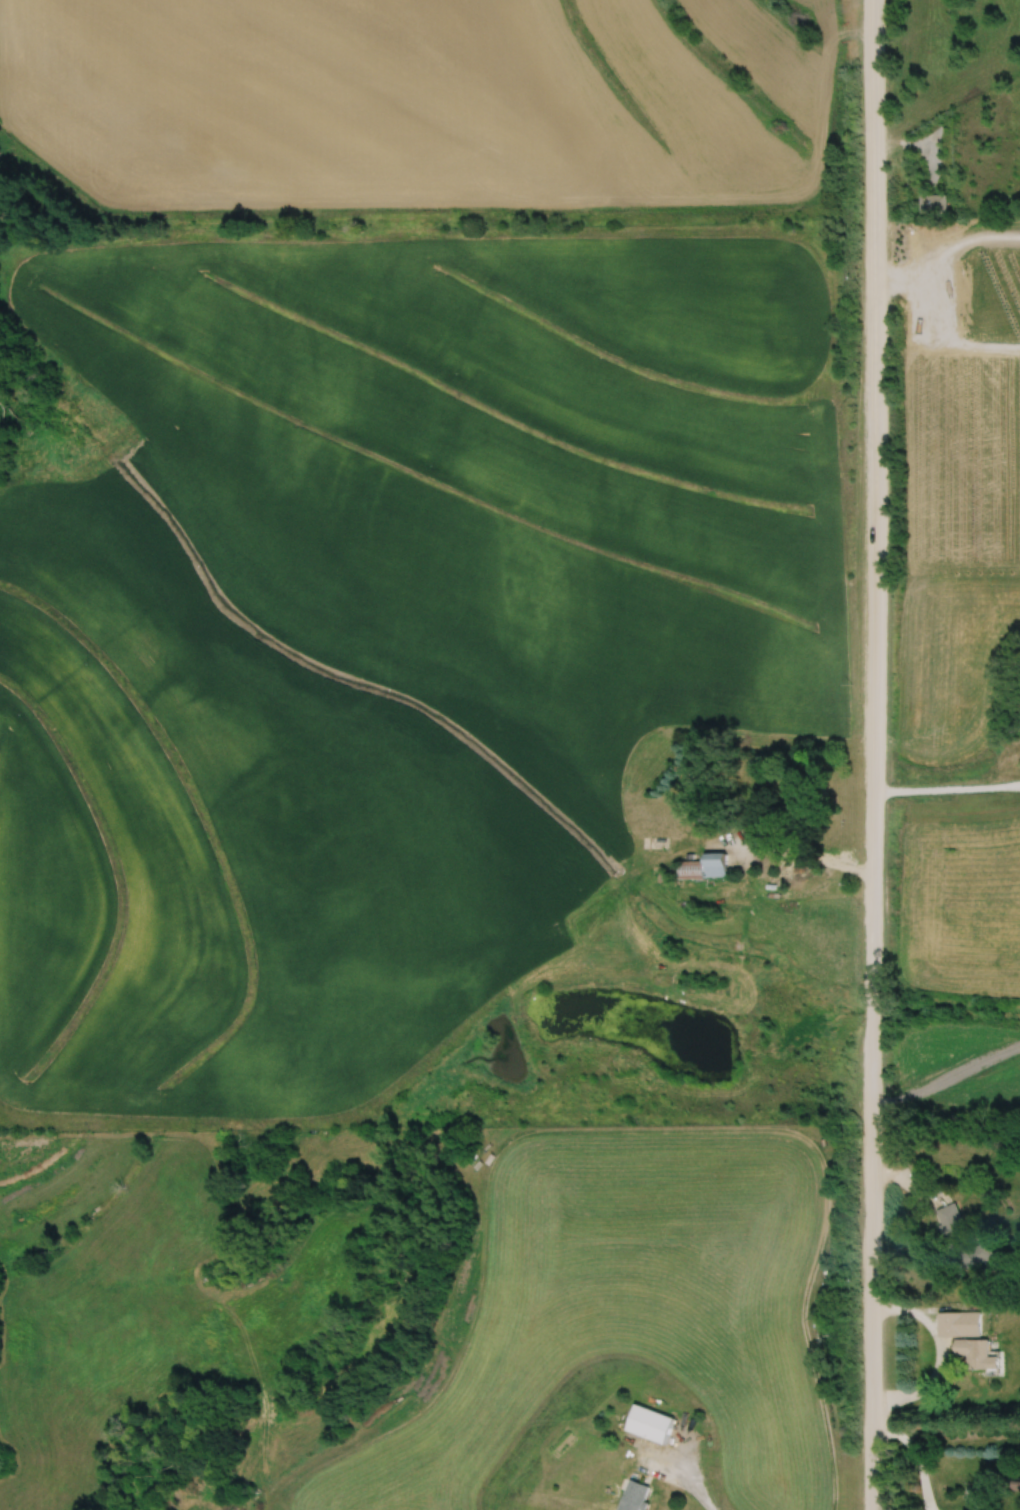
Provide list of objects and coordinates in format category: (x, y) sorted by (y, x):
building: (933, 204)
road: (909, 277)
road: (945, 290)
road: (873, 500)
road: (946, 788)
building: (788, 813)
road: (806, 854)
building: (703, 866)
road: (873, 1010)
building: (959, 1240)
road: (873, 1264)
building: (948, 1324)
building: (973, 1353)
building: (649, 1424)
road: (914, 1456)
road: (684, 1479)
building: (632, 1496)

